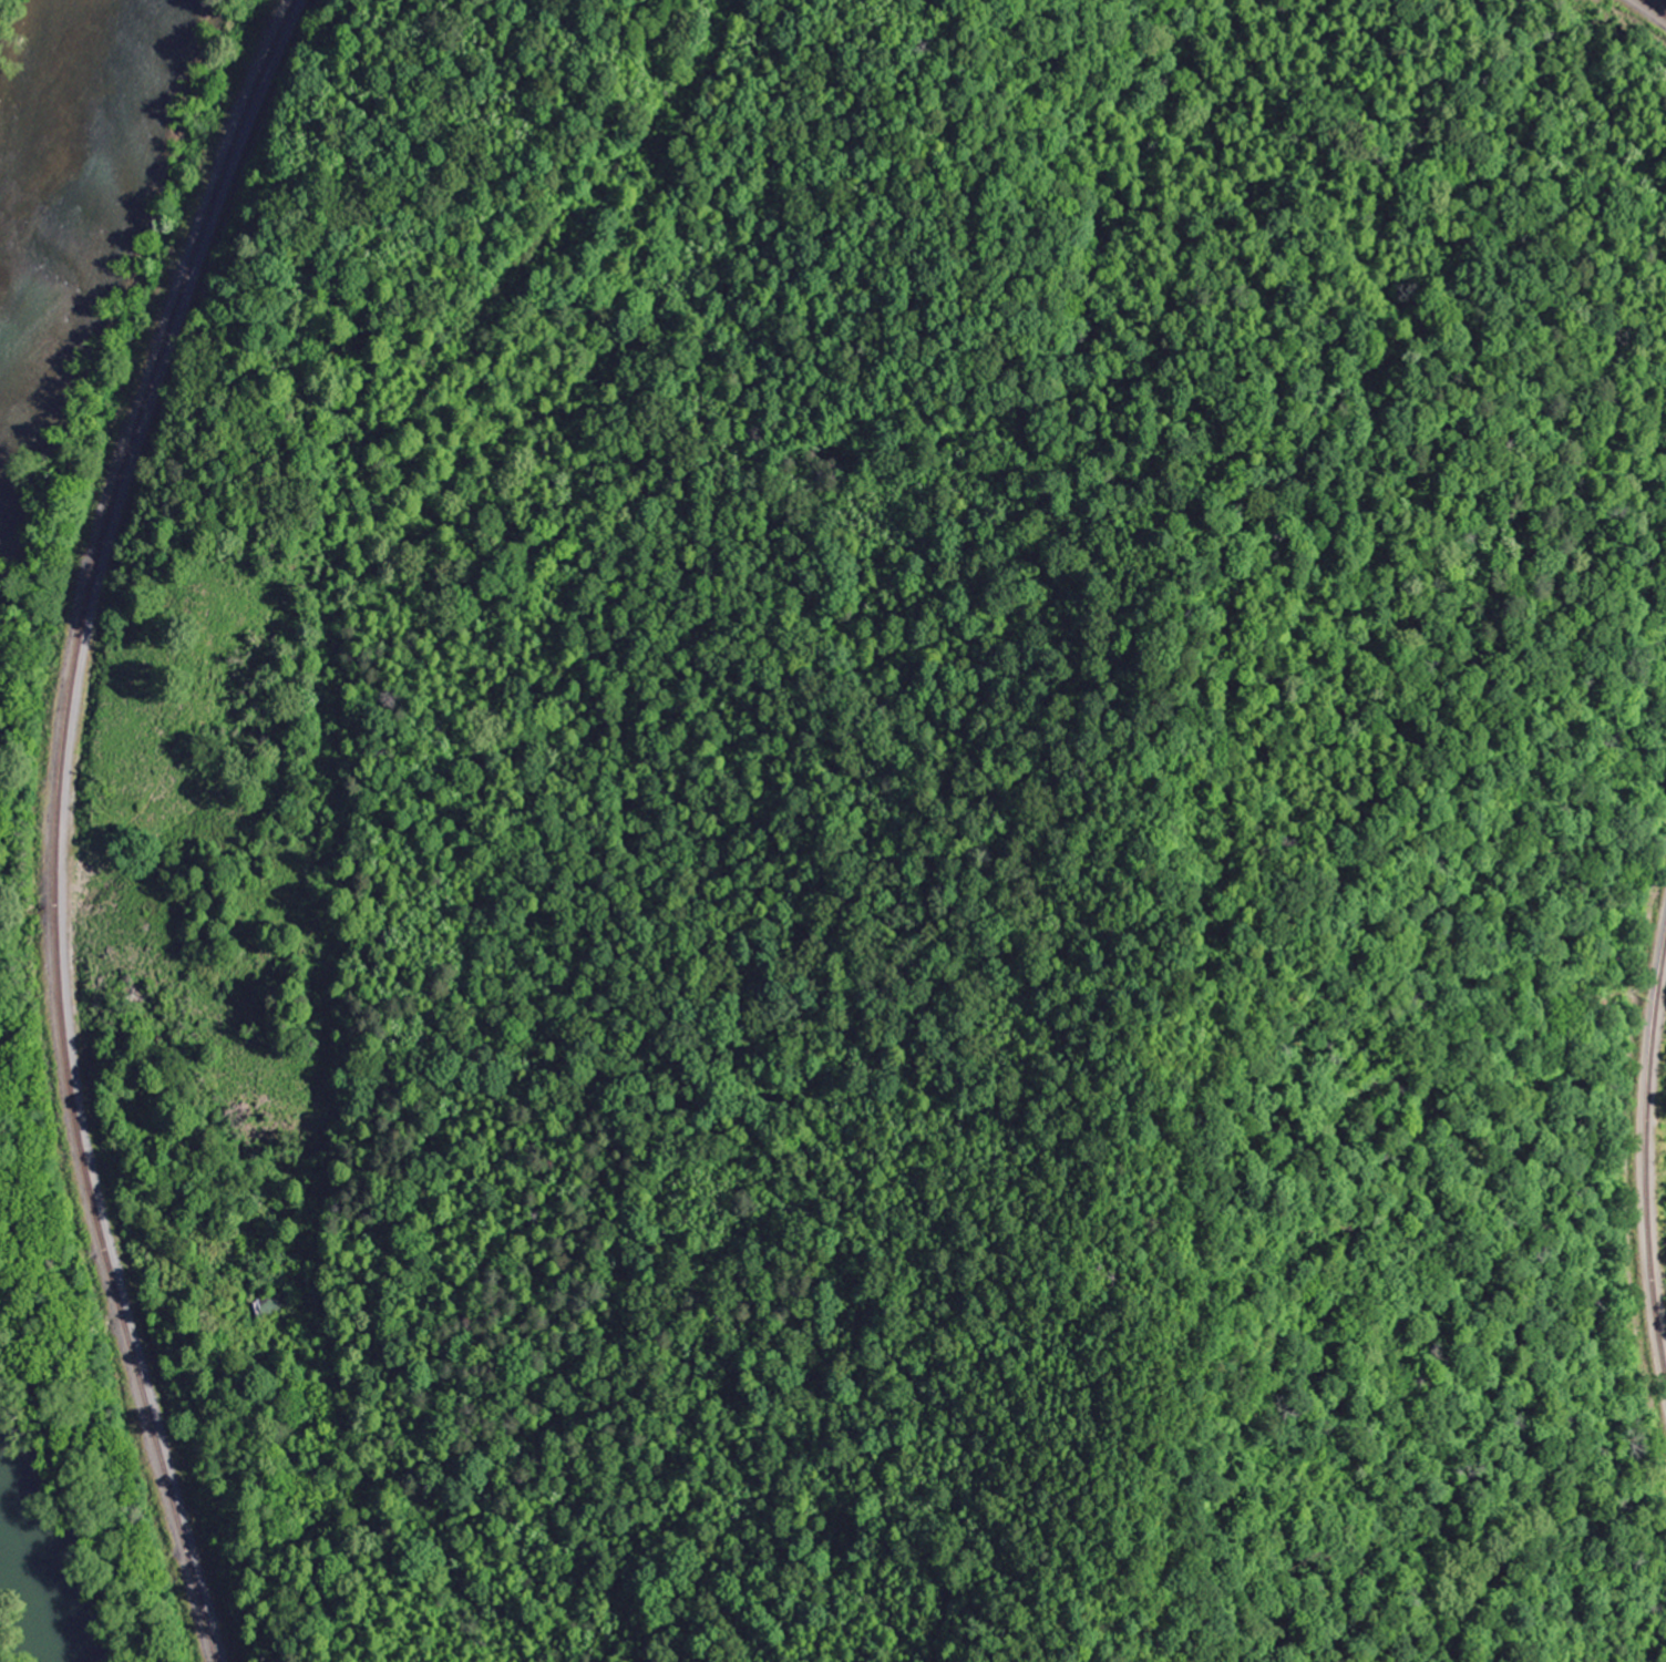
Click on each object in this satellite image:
railway: (1654, 9)
river: (91, 196)
railway: (56, 822)
railway: (1647, 1157)
river: (41, 1560)

